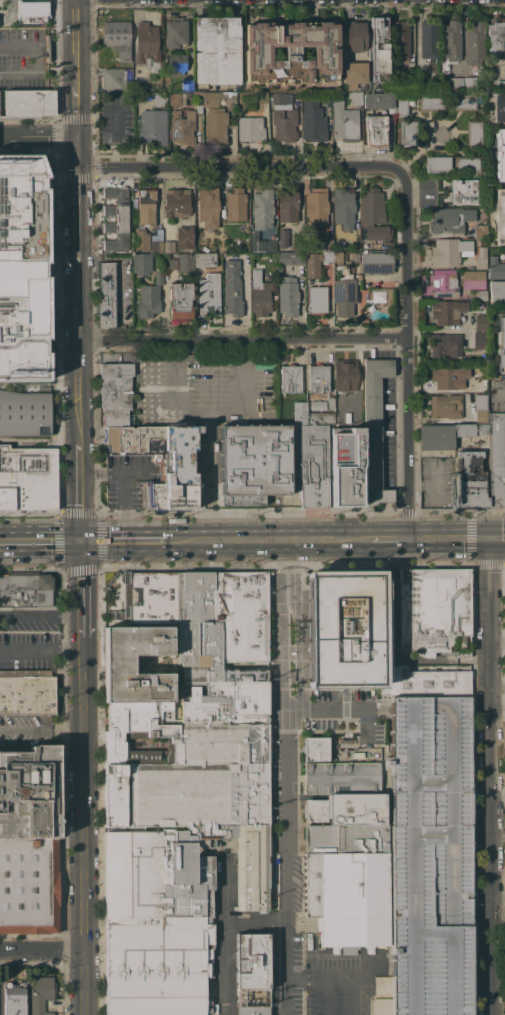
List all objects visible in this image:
building: (31, 11)
building: (175, 32)
building: (356, 35)
building: (496, 35)
building: (116, 37)
building: (428, 38)
building: (400, 39)
building: (450, 40)
road: (74, 42)
building: (474, 42)
road: (18, 46)
road: (40, 46)
road: (47, 46)
road: (51, 46)
road: (64, 46)
building: (147, 46)
building: (47, 48)
building: (217, 49)
building: (379, 49)
building: (290, 52)
building: (174, 64)
road: (29, 70)
building: (354, 74)
building: (112, 79)
building: (421, 81)
building: (454, 83)
building: (469, 83)
building: (139, 85)
building: (363, 86)
building: (500, 86)
building: (189, 88)
building: (355, 97)
building: (218, 98)
building: (278, 98)
building: (176, 99)
building: (160, 100)
building: (387, 101)
building: (461, 101)
building: (431, 102)
building: (29, 103)
building: (263, 104)
building: (250, 105)
building: (499, 107)
building: (199, 108)
building: (479, 110)
road: (76, 112)
building: (450, 115)
building: (344, 121)
building: (314, 123)
building: (216, 125)
building: (284, 125)
building: (152, 126)
building: (182, 127)
building: (250, 129)
building: (375, 130)
building: (407, 133)
building: (474, 133)
road: (38, 139)
road: (78, 155)
building: (500, 155)
building: (437, 164)
building: (467, 165)
road: (239, 167)
building: (463, 191)
building: (176, 203)
building: (235, 204)
building: (287, 204)
building: (146, 206)
building: (208, 206)
building: (316, 207)
building: (343, 207)
building: (262, 209)
building: (373, 215)
building: (499, 216)
building: (115, 219)
building: (450, 219)
building: (480, 231)
building: (184, 237)
building: (282, 237)
building: (482, 241)
building: (146, 242)
building: (246, 244)
building: (227, 245)
building: (262, 245)
building: (169, 246)
building: (321, 247)
building: (449, 251)
building: (296, 253)
building: (504, 253)
road: (79, 254)
building: (282, 257)
building: (335, 257)
building: (355, 257)
building: (480, 257)
building: (204, 259)
building: (185, 262)
building: (376, 262)
building: (141, 263)
building: (317, 263)
building: (170, 264)
building: (23, 268)
building: (495, 268)
building: (473, 279)
building: (443, 283)
building: (232, 288)
building: (497, 291)
building: (260, 293)
building: (209, 294)
building: (287, 294)
building: (378, 294)
building: (106, 295)
building: (480, 295)
building: (344, 296)
building: (149, 297)
building: (316, 299)
building: (180, 300)
building: (447, 311)
road: (246, 317)
building: (480, 322)
road: (244, 337)
building: (479, 340)
building: (500, 342)
building: (445, 345)
road: (408, 354)
building: (345, 375)
building: (449, 377)
building: (318, 378)
building: (291, 379)
road: (40, 382)
road: (501, 391)
building: (479, 401)
building: (330, 402)
road: (80, 404)
road: (176, 404)
building: (317, 405)
building: (446, 406)
building: (24, 413)
building: (299, 413)
road: (217, 414)
building: (480, 417)
building: (374, 429)
building: (464, 429)
parking lot: (386, 432)
building: (435, 437)
road: (40, 439)
building: (149, 442)
building: (495, 457)
building: (312, 459)
building: (254, 462)
building: (345, 468)
building: (27, 478)
building: (471, 480)
road: (126, 483)
road: (79, 506)
road: (210, 523)
road: (389, 524)
road: (389, 538)
road: (451, 538)
traffic signals: (491, 538)
road: (498, 538)
road: (123, 540)
road: (267, 540)
road: (39, 541)
traffic signals: (79, 541)
building: (26, 590)
road: (76, 590)
building: (150, 597)
building: (114, 600)
road: (295, 600)
road: (278, 610)
building: (436, 611)
building: (242, 614)
road: (38, 615)
building: (199, 624)
building: (344, 628)
road: (390, 646)
road: (27, 651)
road: (65, 652)
building: (119, 668)
building: (243, 675)
building: (290, 675)
building: (427, 682)
road: (300, 688)
building: (27, 691)
road: (280, 693)
building: (222, 698)
road: (284, 708)
road: (338, 709)
road: (365, 722)
building: (130, 725)
road: (24, 732)
building: (168, 737)
building: (214, 742)
building: (314, 749)
building: (146, 756)
building: (256, 773)
road: (492, 776)
building: (339, 778)
building: (115, 795)
building: (189, 797)
building: (355, 808)
building: (314, 810)
road: (76, 827)
building: (345, 838)
building: (29, 840)
building: (429, 858)
parking garage: (429, 858)
road: (287, 862)
building: (252, 868)
building: (133, 872)
building: (186, 874)
building: (310, 885)
road: (499, 896)
building: (352, 900)
road: (254, 921)
parking lot: (428, 922)
road: (221, 932)
road: (38, 948)
building: (251, 960)
building: (159, 965)
road: (372, 968)
road: (341, 977)
building: (40, 994)
building: (251, 996)
road: (321, 996)
building: (14, 998)
building: (250, 1010)

